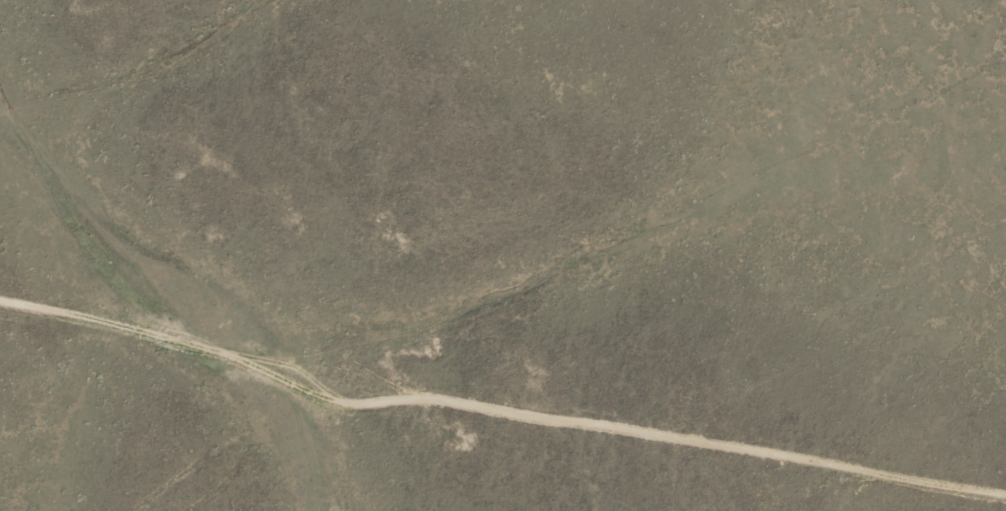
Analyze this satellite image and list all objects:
road: (498, 410)

